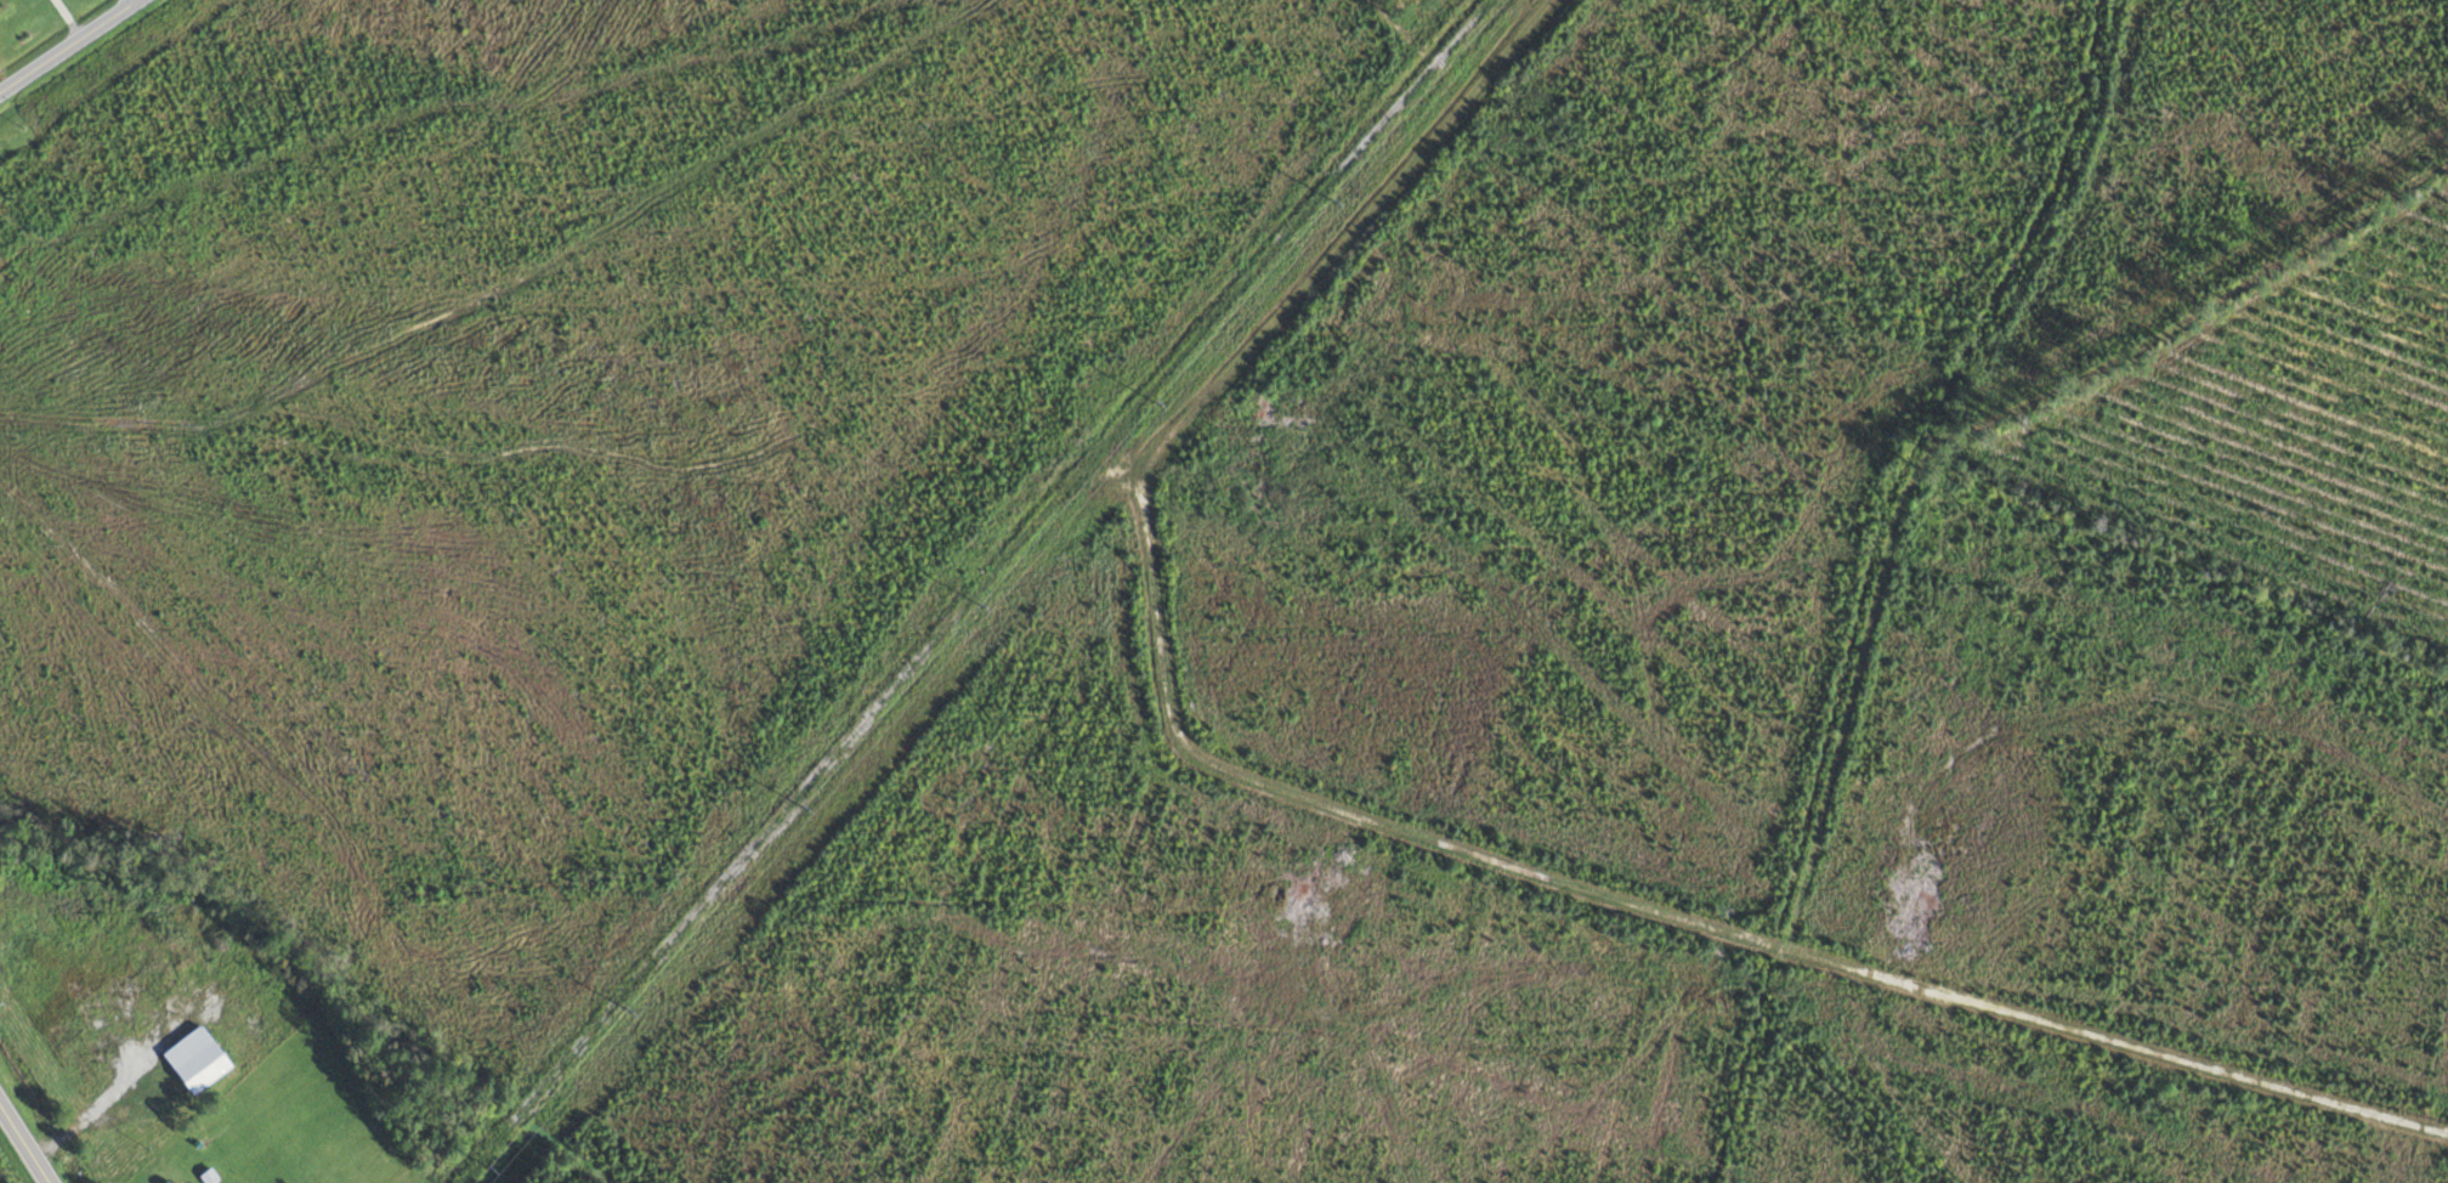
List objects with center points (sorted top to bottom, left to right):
road: (68, 46)
building: (52, 1037)
building: (198, 1060)
road: (23, 1144)

